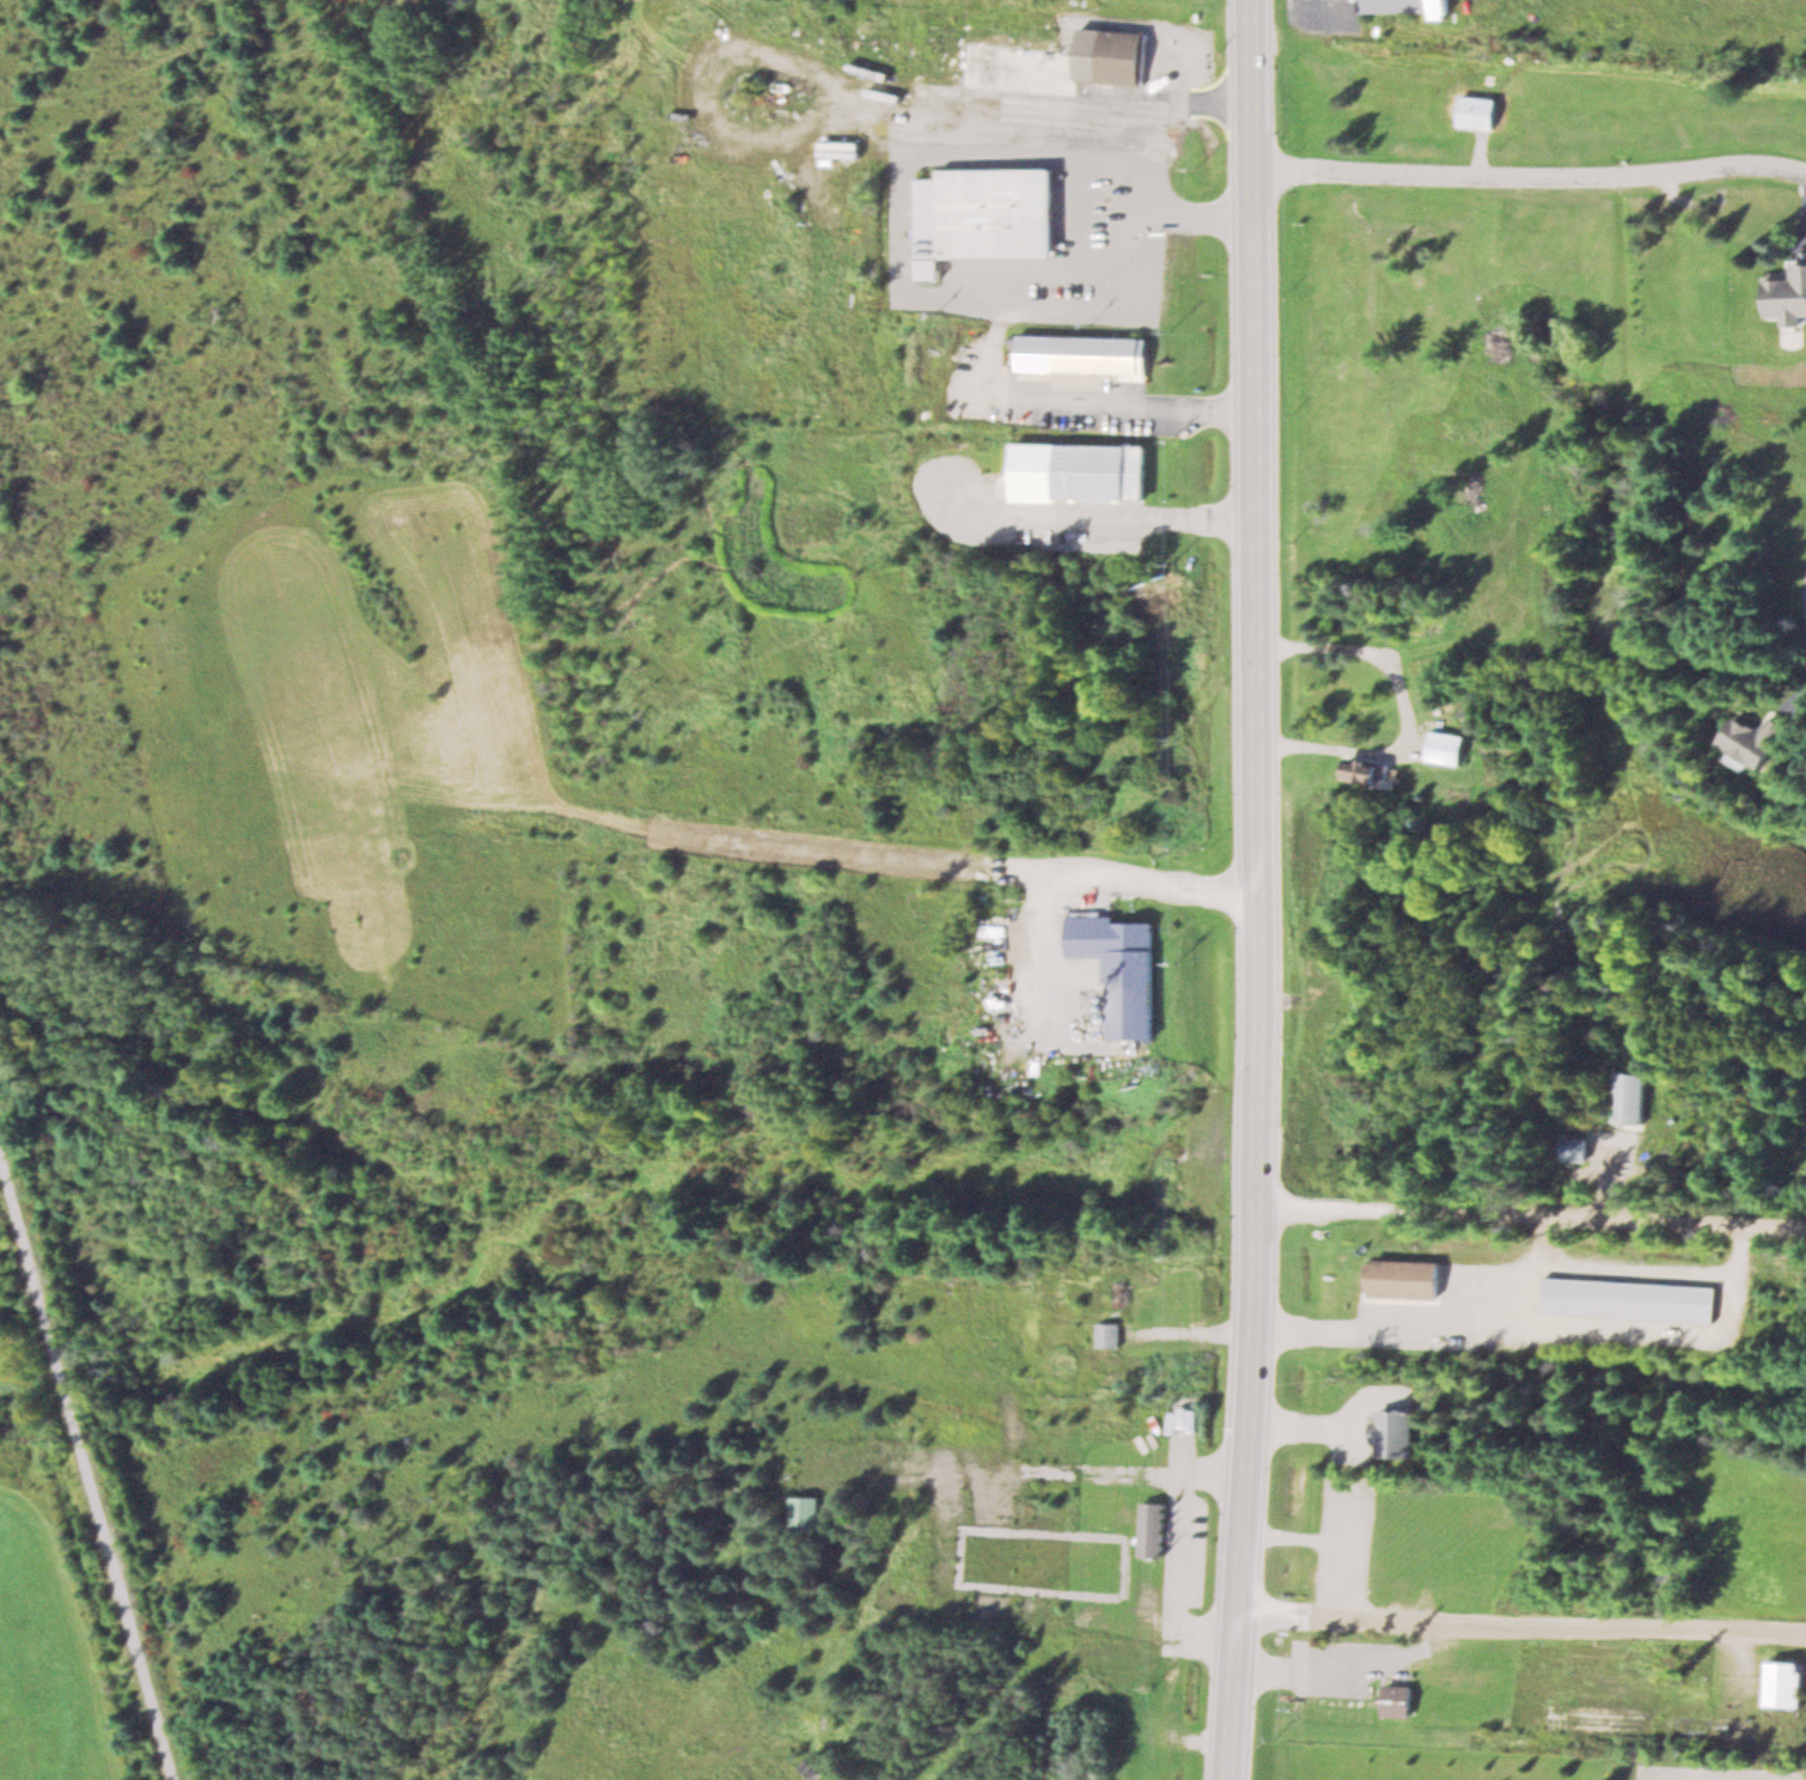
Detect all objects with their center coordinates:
building: (1391, 5)
building: (1441, 10)
building: (1057, 62)
building: (1476, 111)
building: (837, 148)
road: (1530, 179)
building: (983, 215)
building: (1787, 295)
building: (1085, 354)
building: (1079, 471)
building: (1759, 740)
building: (1451, 746)
building: (1369, 772)
road: (1257, 807)
road: (1109, 874)
building: (1121, 968)
building: (1630, 1098)
building: (1574, 1148)
road: (1531, 1217)
building: (1404, 1278)
building: (1629, 1298)
building: (1108, 1333)
building: (1393, 1432)
road: (87, 1459)
building: (804, 1512)
building: (1151, 1528)
road: (1524, 1627)
building: (1488, 1678)
building: (1786, 1683)
road: (1235, 1697)
building: (1459, 1709)
building: (1574, 1718)
building: (809, 1768)

